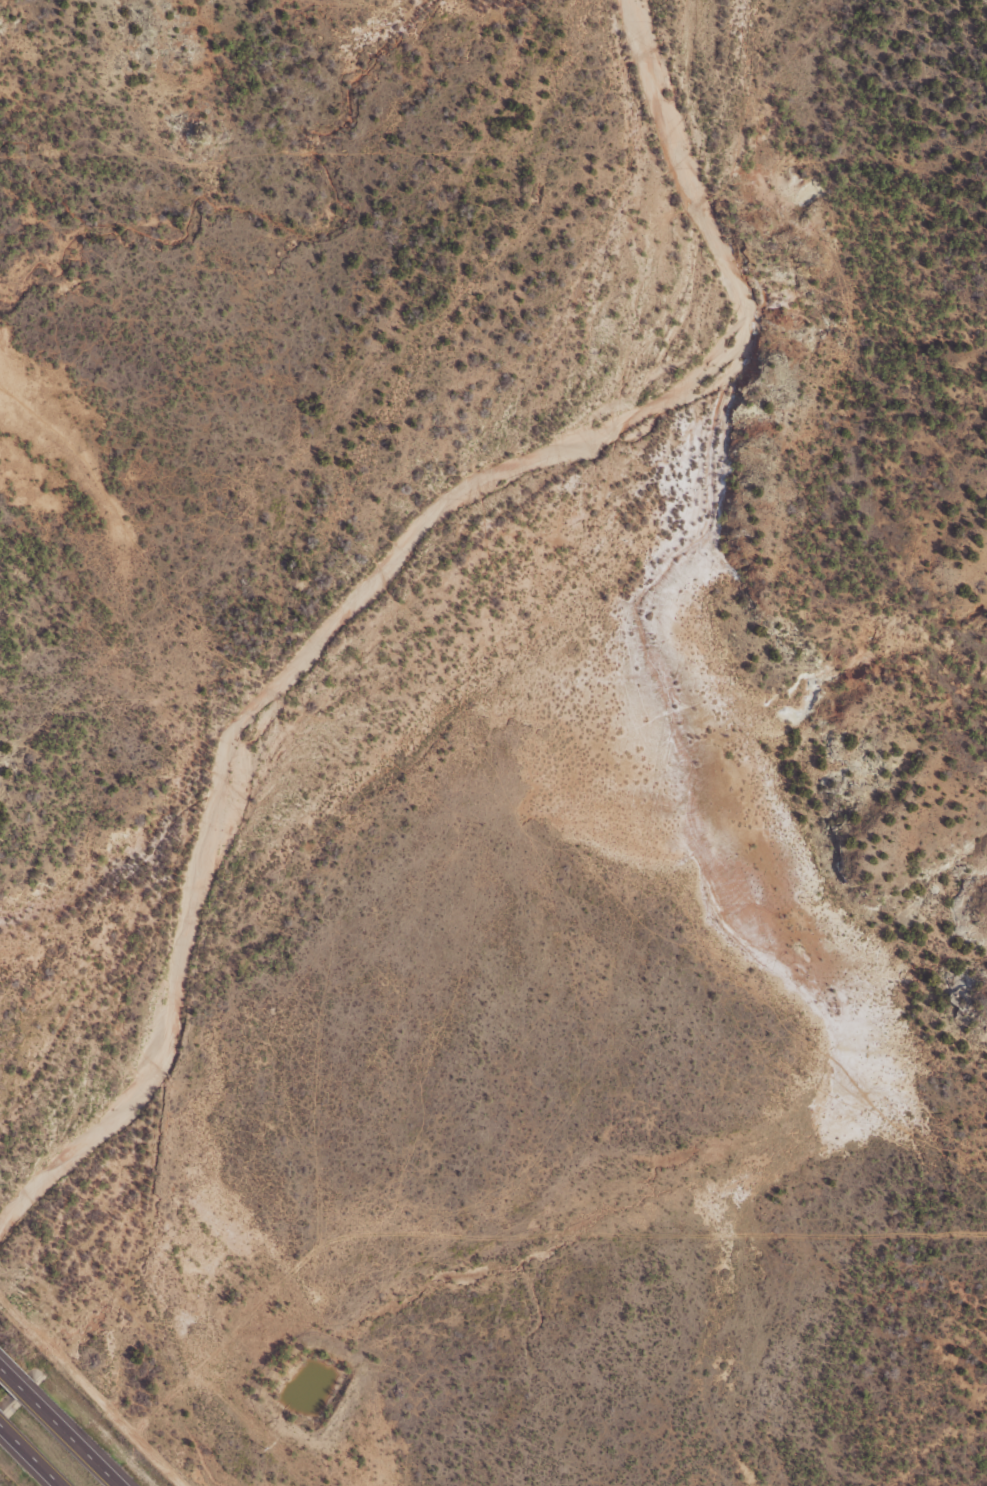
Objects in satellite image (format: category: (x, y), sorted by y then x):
road: (13, 1379)
road: (0, 1429)
road: (72, 1439)
road: (27, 1458)

